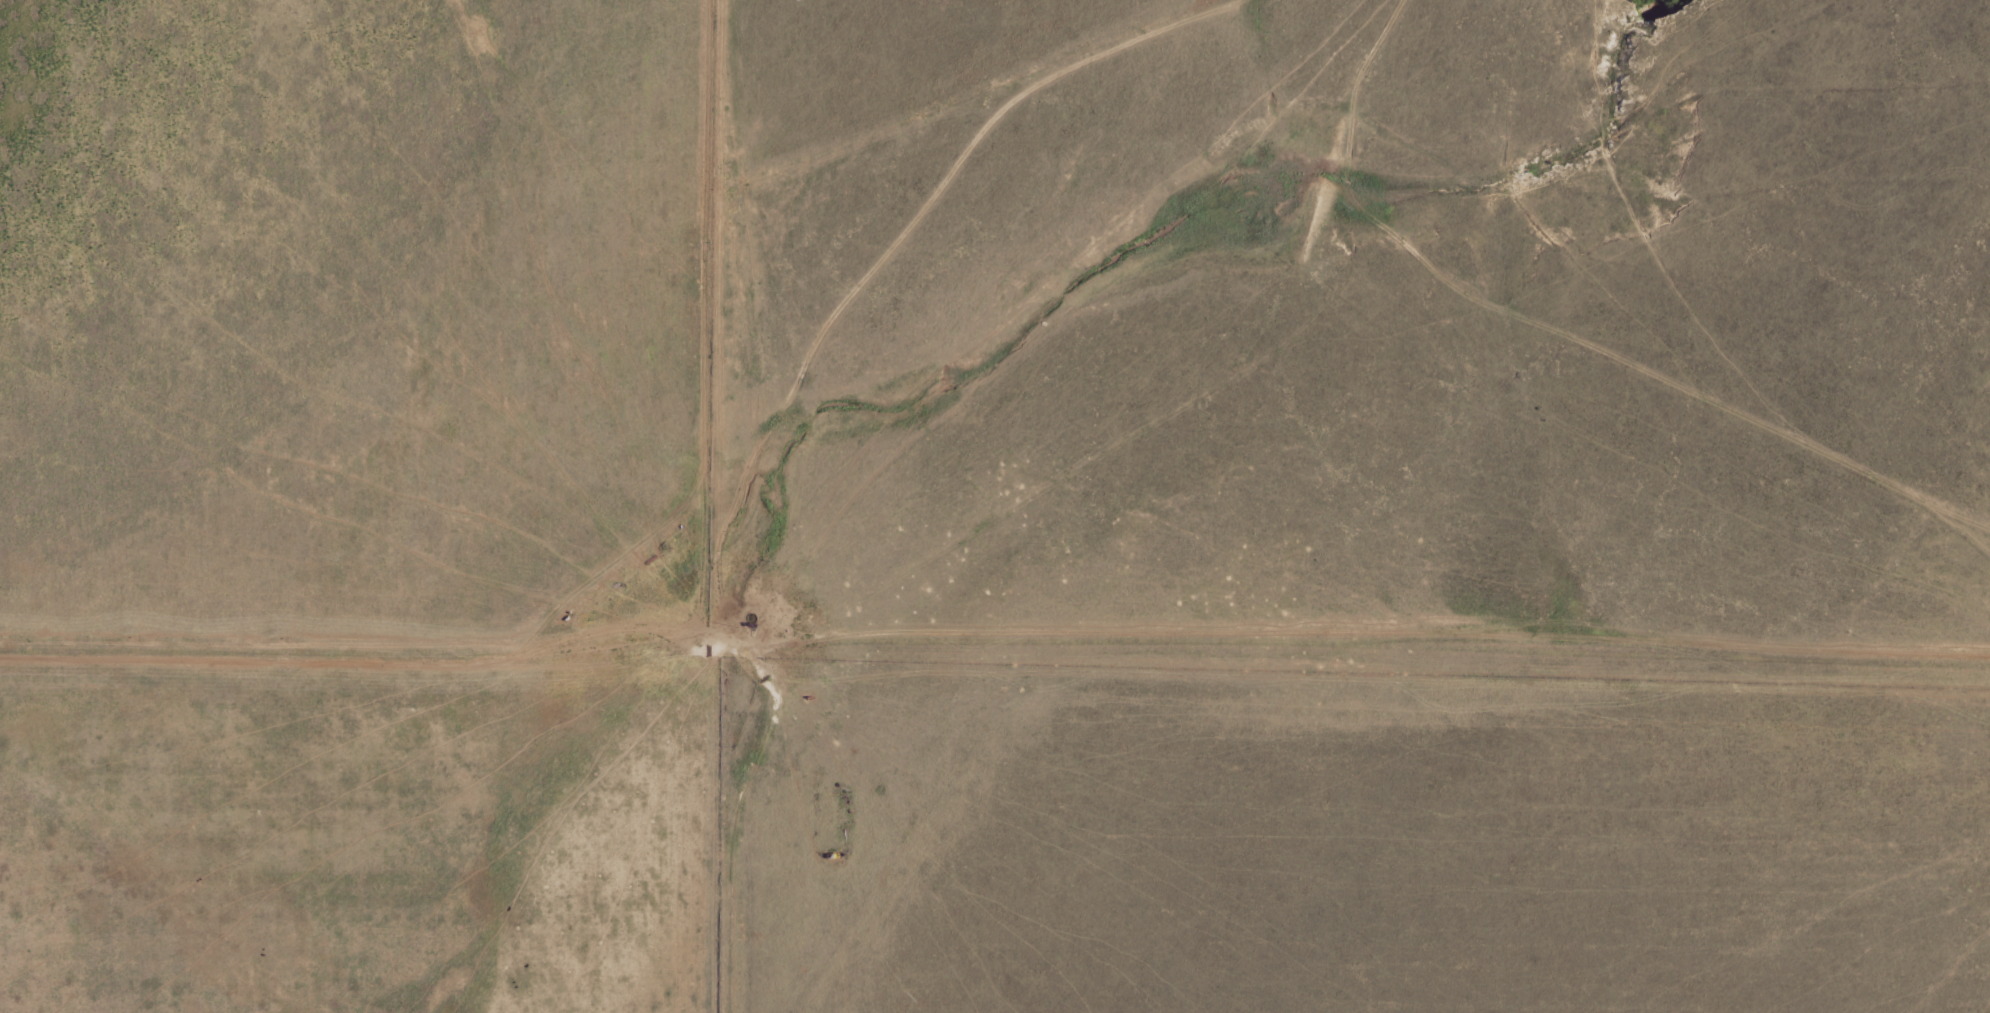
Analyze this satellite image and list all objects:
road: (370, 663)

